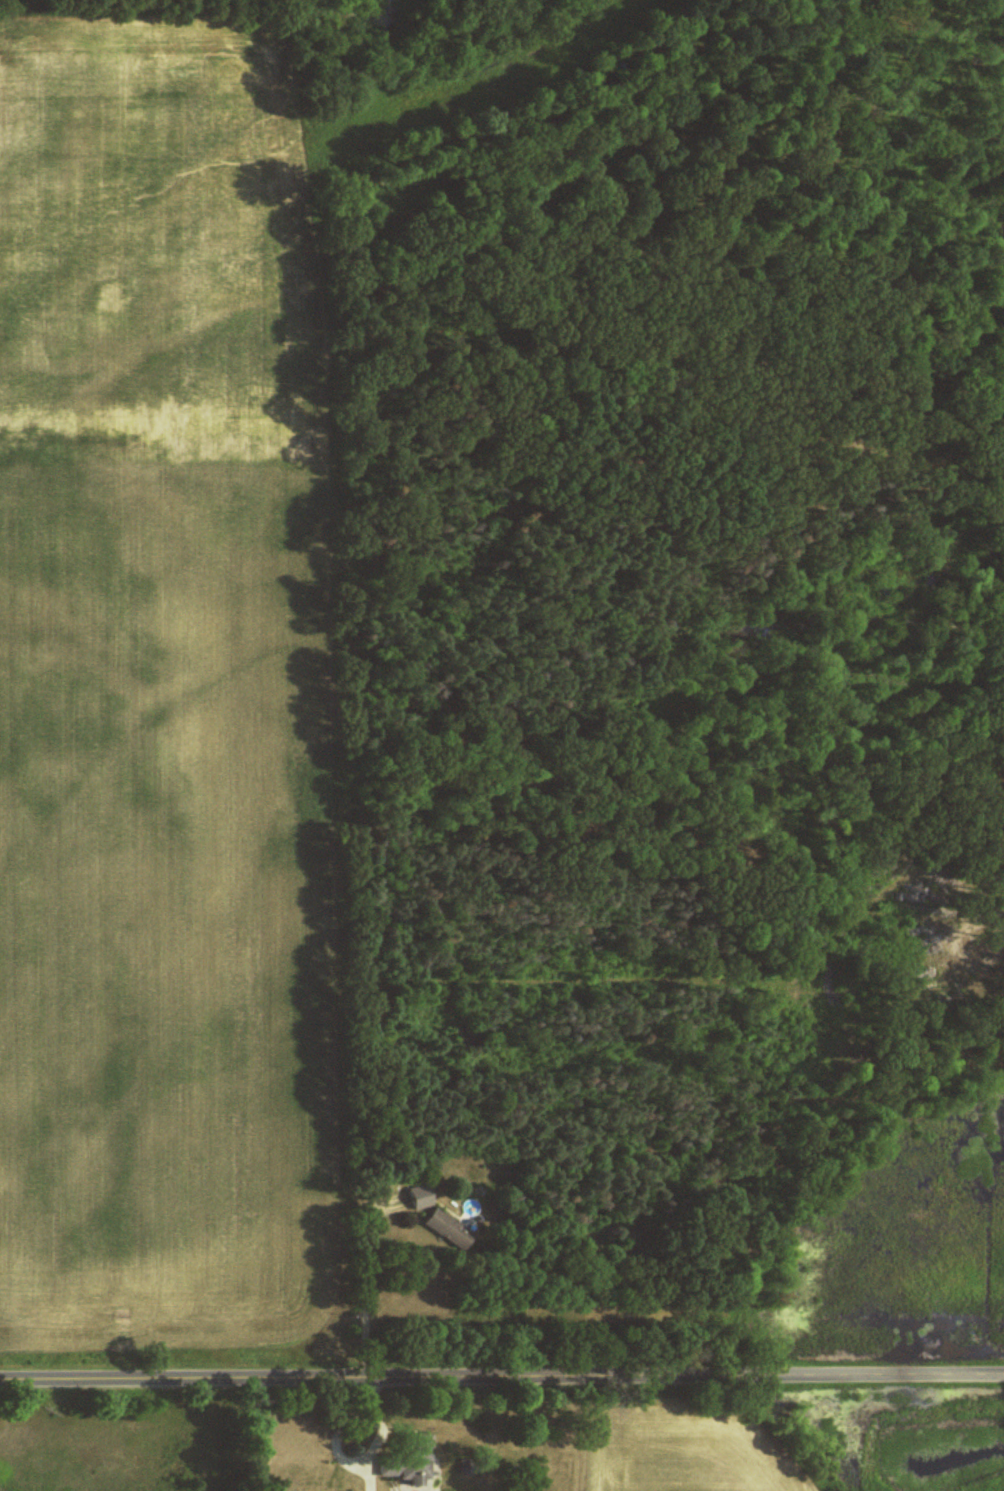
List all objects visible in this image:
building: (449, 1229)
road: (361, 1281)
road: (501, 1373)
road: (337, 1433)
building: (405, 1459)

